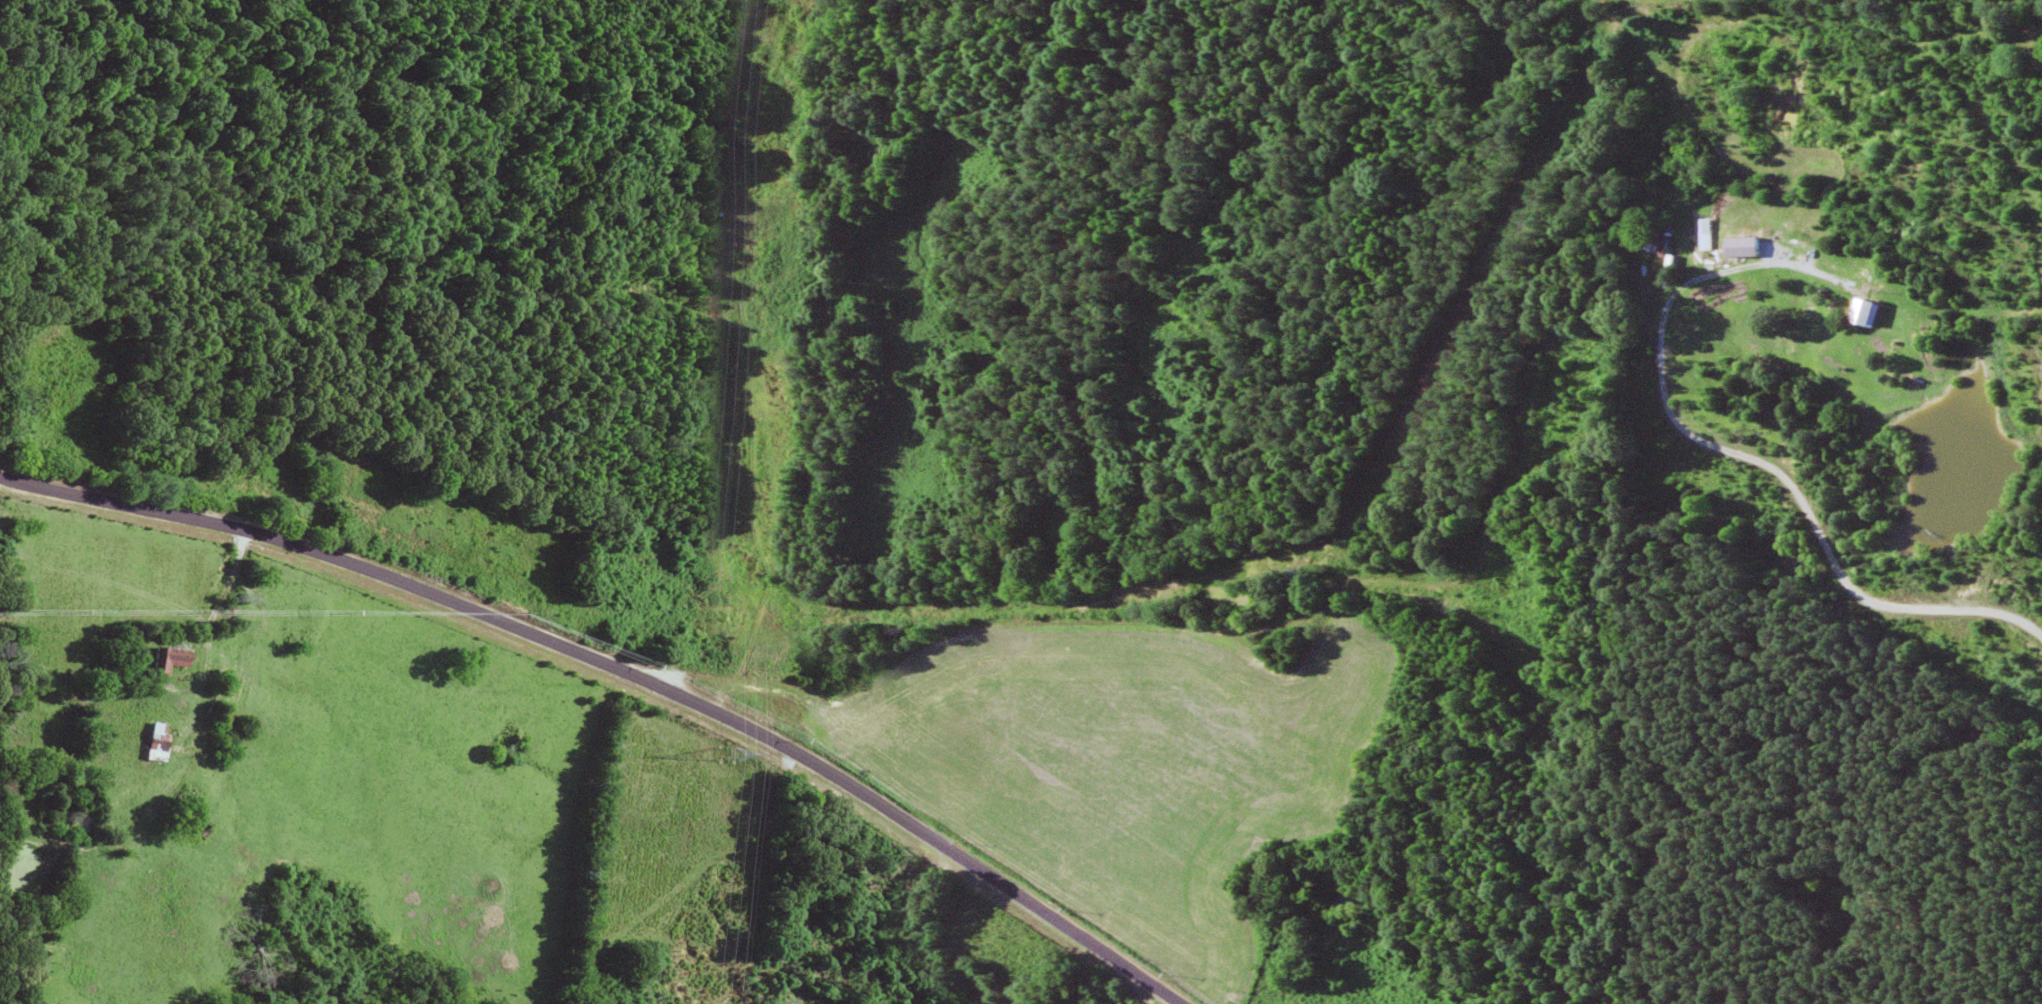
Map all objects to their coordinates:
building: (1659, 236)
building: (1866, 312)
road: (1743, 451)
road: (1319, 545)
road: (638, 636)
building: (165, 659)
building: (152, 742)
power tower: (727, 755)

